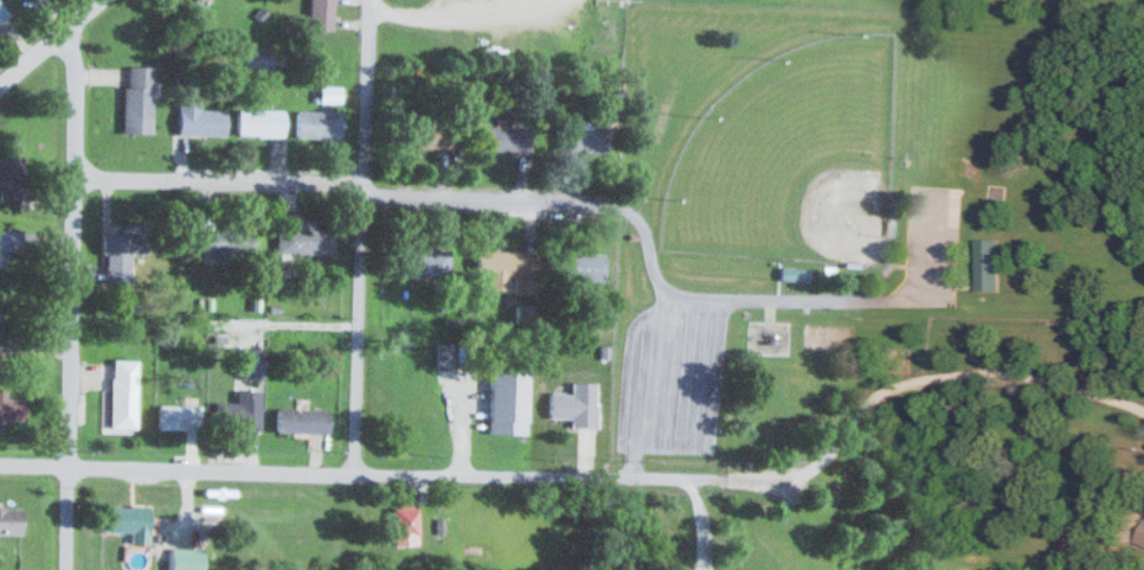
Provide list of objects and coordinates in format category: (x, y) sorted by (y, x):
building: (200, 0)
building: (2, 13)
building: (321, 14)
road: (49, 41)
building: (259, 58)
building: (329, 92)
building: (136, 97)
building: (201, 121)
building: (259, 121)
building: (317, 122)
building: (426, 134)
building: (504, 137)
building: (581, 139)
building: (11, 178)
road: (336, 179)
road: (359, 236)
building: (304, 237)
building: (8, 241)
building: (224, 244)
building: (121, 250)
building: (422, 260)
building: (504, 264)
building: (583, 264)
building: (988, 264)
road: (70, 299)
building: (249, 360)
road: (952, 373)
building: (488, 385)
building: (122, 389)
building: (576, 404)
building: (9, 408)
building: (234, 415)
building: (178, 416)
building: (301, 420)
road: (397, 474)
building: (833, 491)
building: (9, 519)
building: (129, 520)
road: (693, 523)
building: (403, 526)
building: (740, 537)
building: (1142, 538)
building: (185, 558)

